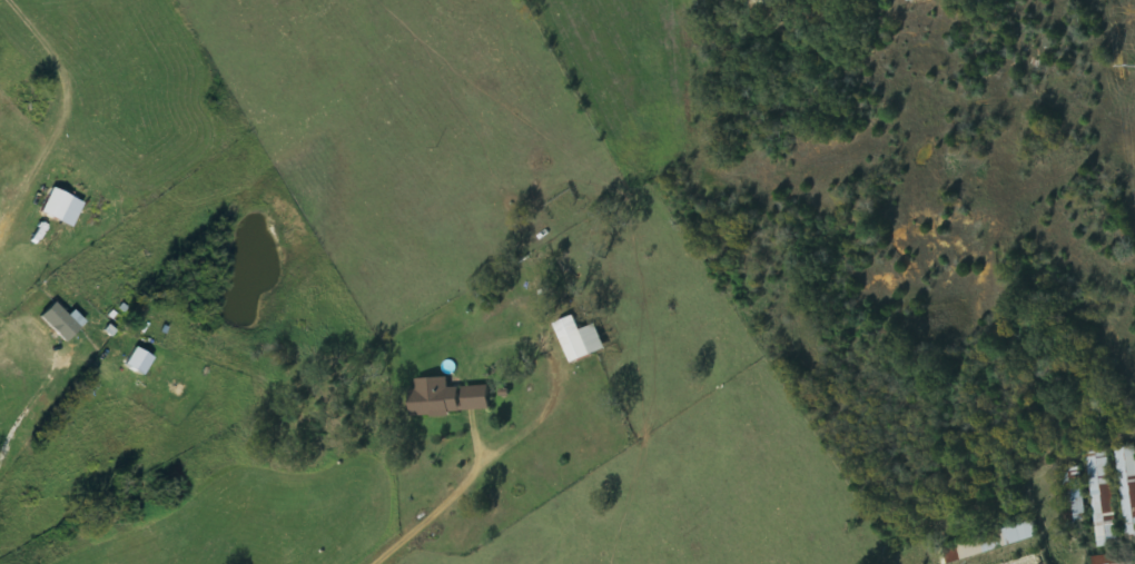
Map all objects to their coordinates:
building: (910, 0)
power tower: (1134, 63)
building: (63, 207)
building: (62, 321)
building: (581, 338)
building: (448, 397)
building: (1127, 486)
building: (1077, 493)
building: (1102, 498)
road: (420, 524)
building: (991, 542)
building: (1113, 558)

